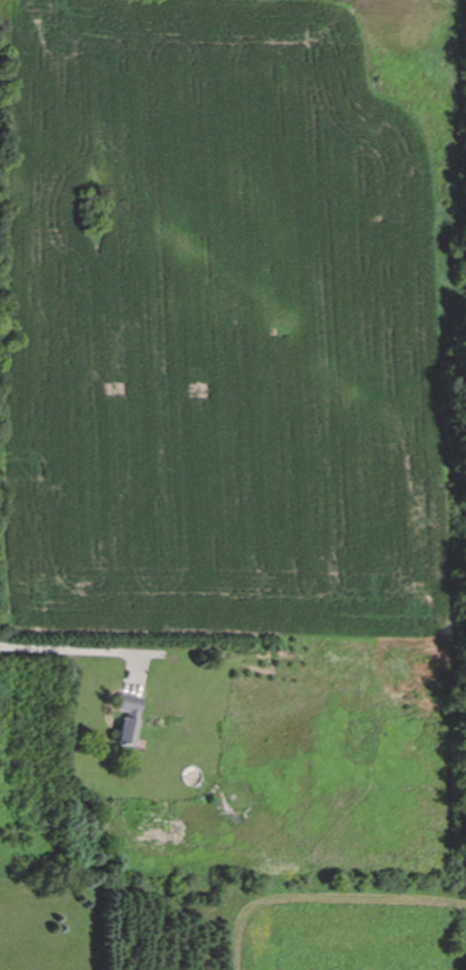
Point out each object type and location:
crop: (230, 323)
road: (79, 649)
building: (126, 717)

